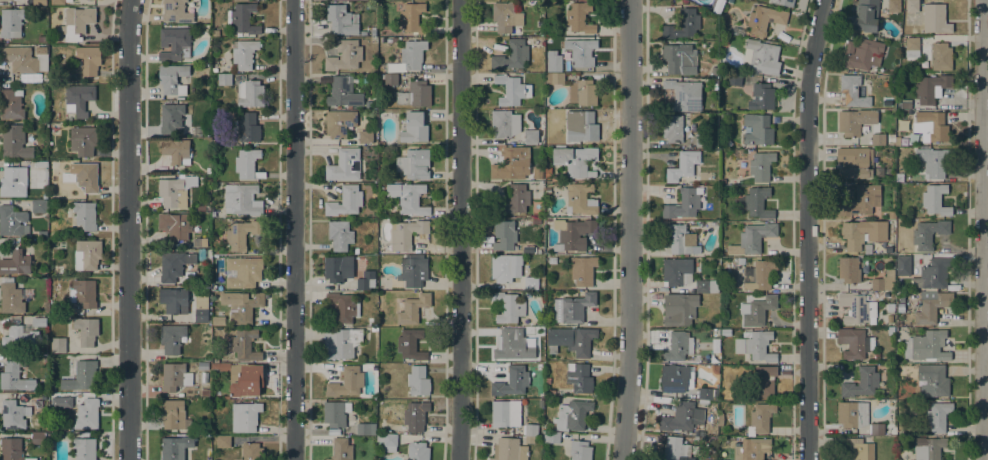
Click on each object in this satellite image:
building: (5, 2)
building: (39, 2)
building: (57, 2)
building: (783, 2)
building: (894, 6)
building: (175, 11)
building: (911, 15)
building: (506, 16)
building: (865, 16)
building: (579, 17)
building: (242, 18)
building: (412, 18)
building: (937, 18)
building: (764, 19)
building: (341, 20)
building: (76, 22)
building: (10, 23)
building: (683, 25)
building: (372, 32)
building: (215, 33)
building: (42, 39)
building: (394, 40)
building: (173, 42)
building: (912, 43)
building: (41, 50)
building: (580, 52)
building: (861, 53)
building: (244, 54)
building: (344, 55)
building: (511, 56)
building: (941, 56)
building: (408, 57)
building: (760, 57)
building: (19, 59)
building: (89, 59)
building: (679, 59)
building: (553, 61)
building: (40, 62)
building: (715, 72)
building: (172, 78)
building: (554, 78)
building: (224, 79)
building: (390, 79)
building: (734, 79)
building: (931, 88)
building: (511, 90)
building: (853, 91)
building: (583, 92)
building: (343, 93)
building: (250, 94)
building: (415, 94)
building: (684, 95)
building: (761, 97)
building: (78, 99)
building: (11, 104)
building: (171, 117)
building: (855, 121)
building: (339, 123)
building: (504, 123)
building: (585, 126)
building: (930, 126)
building: (247, 127)
building: (414, 127)
building: (675, 128)
building: (757, 129)
building: (530, 136)
building: (365, 137)
building: (891, 138)
building: (878, 139)
building: (702, 140)
building: (14, 141)
building: (82, 141)
building: (897, 141)
building: (176, 151)
building: (935, 160)
building: (575, 161)
building: (416, 163)
building: (854, 163)
building: (39, 164)
building: (247, 164)
building: (511, 164)
building: (344, 165)
building: (682, 166)
building: (761, 166)
building: (879, 172)
building: (547, 173)
building: (84, 176)
building: (539, 176)
building: (13, 181)
building: (547, 190)
building: (174, 191)
building: (408, 197)
building: (241, 199)
building: (580, 199)
building: (512, 200)
building: (935, 200)
building: (345, 201)
building: (861, 201)
building: (757, 202)
building: (683, 203)
building: (39, 206)
building: (200, 207)
building: (85, 215)
building: (13, 221)
building: (536, 221)
building: (716, 223)
building: (175, 225)
road: (127, 229)
road: (806, 229)
road: (293, 230)
road: (459, 230)
road: (629, 230)
road: (982, 230)
building: (242, 233)
building: (406, 233)
building: (928, 233)
building: (572, 234)
building: (340, 235)
building: (504, 235)
building: (852, 235)
building: (752, 238)
building: (681, 240)
building: (199, 242)
building: (529, 249)
building: (355, 250)
building: (86, 255)
building: (740, 261)
building: (15, 263)
building: (174, 265)
building: (903, 265)
building: (505, 267)
building: (913, 267)
building: (334, 269)
building: (849, 269)
building: (413, 270)
building: (582, 270)
building: (243, 272)
building: (676, 272)
building: (933, 274)
building: (758, 275)
building: (366, 280)
building: (884, 282)
building: (531, 283)
building: (707, 286)
building: (83, 293)
building: (10, 297)
building: (174, 300)
building: (241, 305)
building: (890, 306)
building: (507, 307)
building: (900, 307)
building: (342, 308)
building: (413, 308)
building: (572, 308)
building: (680, 308)
building: (856, 308)
building: (932, 308)
building: (759, 310)
building: (201, 315)
building: (218, 320)
building: (39, 322)
building: (898, 323)
building: (86, 330)
building: (726, 332)
building: (172, 338)
building: (19, 339)
building: (572, 339)
building: (341, 342)
building: (854, 343)
building: (411, 344)
building: (509, 344)
building: (58, 345)
building: (245, 345)
building: (678, 346)
building: (756, 346)
building: (927, 346)
building: (215, 359)
building: (215, 365)
building: (203, 366)
building: (82, 376)
building: (175, 377)
building: (204, 377)
building: (579, 377)
building: (14, 378)
building: (676, 378)
building: (547, 379)
building: (933, 380)
building: (248, 381)
building: (418, 381)
building: (512, 381)
building: (347, 382)
building: (763, 382)
building: (861, 382)
building: (552, 391)
building: (205, 392)
building: (706, 395)
building: (53, 397)
building: (38, 403)
building: (336, 413)
building: (507, 413)
building: (14, 414)
building: (87, 414)
building: (173, 414)
building: (852, 414)
building: (572, 415)
building: (415, 416)
building: (937, 416)
building: (245, 417)
building: (684, 417)
building: (720, 419)
building: (760, 419)
building: (366, 429)
building: (530, 429)
building: (877, 429)
building: (83, 434)
building: (550, 436)
building: (38, 438)
building: (529, 439)
building: (223, 440)
building: (387, 442)
building: (175, 447)
building: (84, 448)
building: (751, 448)
building: (12, 449)
building: (341, 449)
building: (508, 449)
building: (675, 449)
building: (929, 449)
building: (579, 450)
building: (855, 450)
building: (251, 451)
building: (417, 451)
building: (947, 459)

